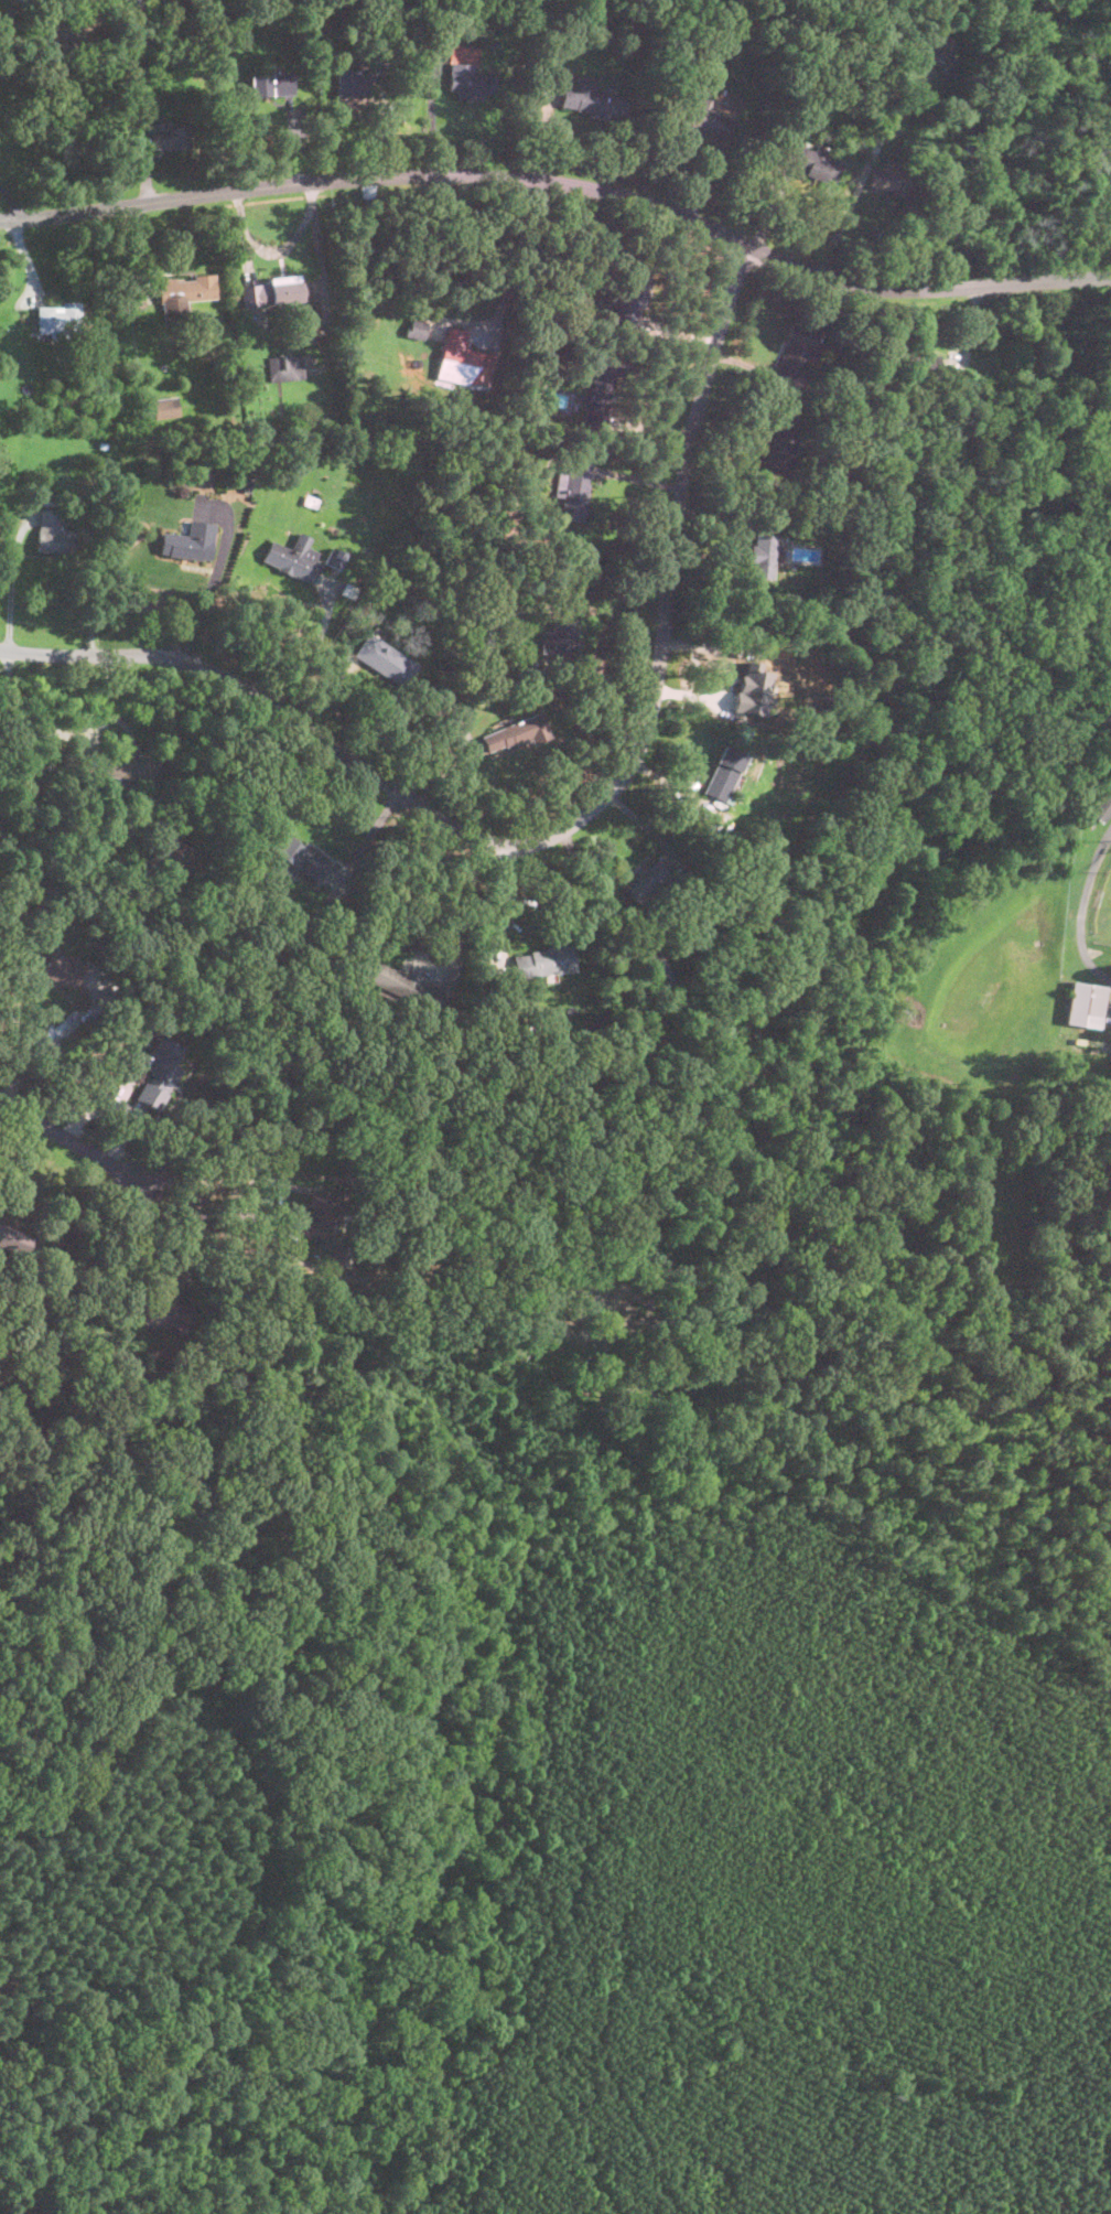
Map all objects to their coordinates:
building: (68, 32)
building: (937, 46)
building: (947, 63)
building: (350, 80)
building: (468, 82)
building: (271, 84)
building: (589, 98)
building: (704, 117)
road: (431, 119)
building: (164, 138)
building: (807, 159)
building: (886, 180)
road: (563, 181)
road: (850, 207)
building: (272, 290)
building: (183, 292)
building: (630, 298)
building: (58, 315)
road: (441, 321)
building: (417, 329)
building: (796, 350)
building: (959, 353)
building: (462, 359)
building: (285, 366)
building: (924, 366)
building: (603, 389)
building: (165, 406)
building: (779, 447)
building: (575, 488)
building: (53, 534)
building: (190, 540)
building: (764, 548)
building: (292, 557)
building: (336, 558)
road: (215, 576)
road: (15, 579)
building: (561, 637)
road: (308, 654)
building: (387, 659)
road: (600, 676)
building: (752, 688)
building: (514, 731)
road: (67, 734)
road: (211, 751)
building: (132, 765)
building: (725, 771)
building: (1102, 806)
road: (568, 826)
building: (184, 857)
building: (315, 862)
building: (645, 880)
road: (464, 894)
road: (501, 900)
road: (1081, 909)
building: (547, 960)
building: (655, 964)
building: (61, 968)
building: (401, 982)
building: (1085, 1003)
road: (1109, 1011)
road: (56, 1041)
building: (158, 1072)
road: (74, 1136)
road: (274, 1187)
building: (319, 1218)
road: (168, 1230)
building: (14, 1238)
building: (168, 1314)

